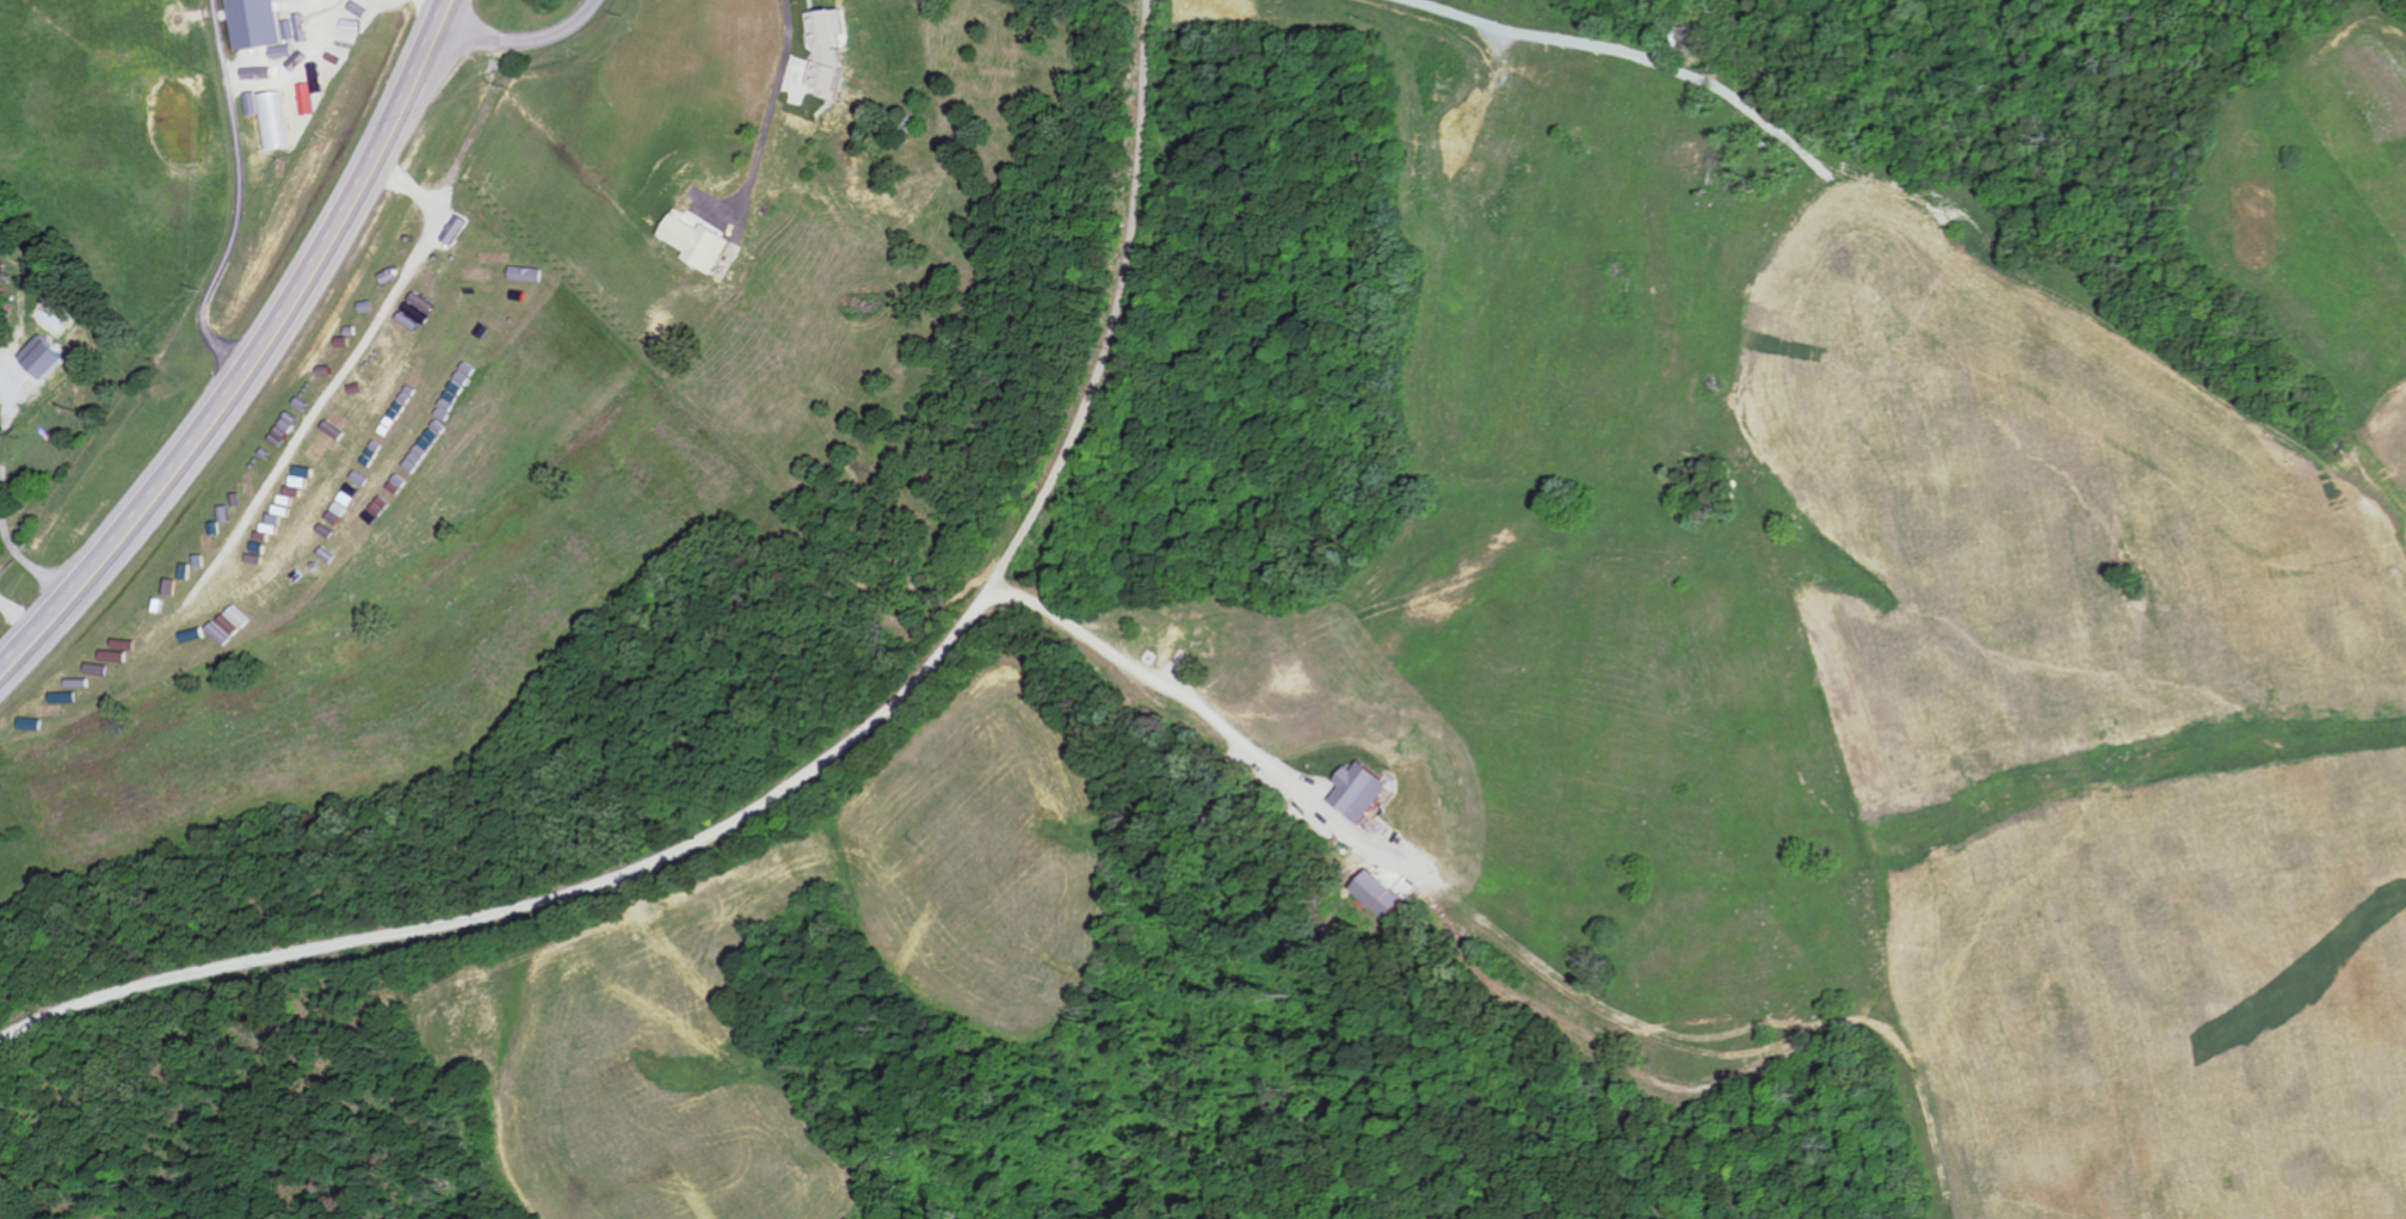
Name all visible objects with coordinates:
building: (265, 27)
road: (522, 37)
building: (831, 48)
road: (776, 103)
building: (699, 241)
road: (255, 357)
building: (167, 610)
building: (1365, 793)
road: (579, 858)
building: (1383, 895)

